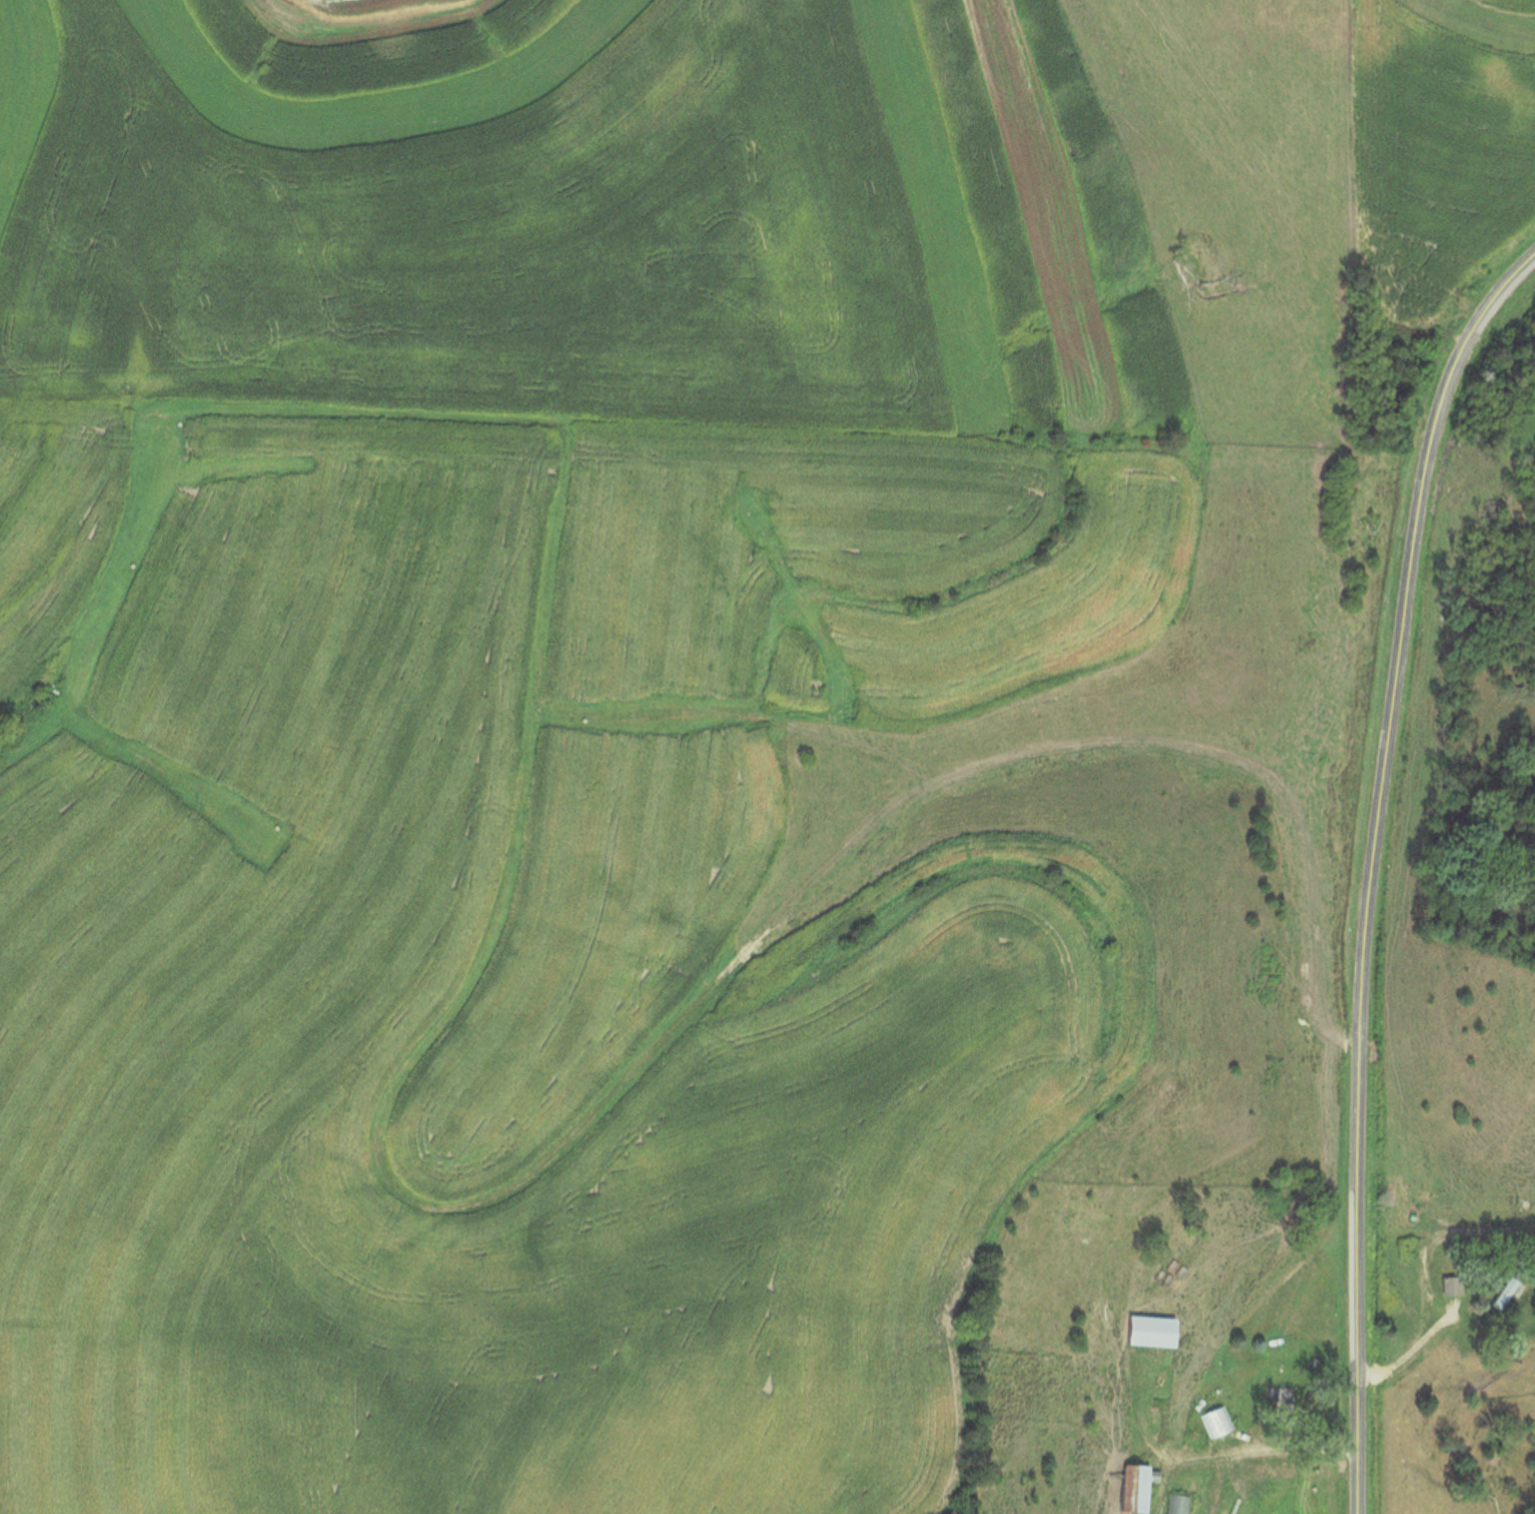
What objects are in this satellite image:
road: (1370, 870)
building: (1533, 1273)
building: (1447, 1285)
building: (1503, 1290)
building: (1146, 1330)
road: (1413, 1351)
building: (1277, 1399)
building: (1212, 1420)
building: (1131, 1488)
building: (1174, 1504)

